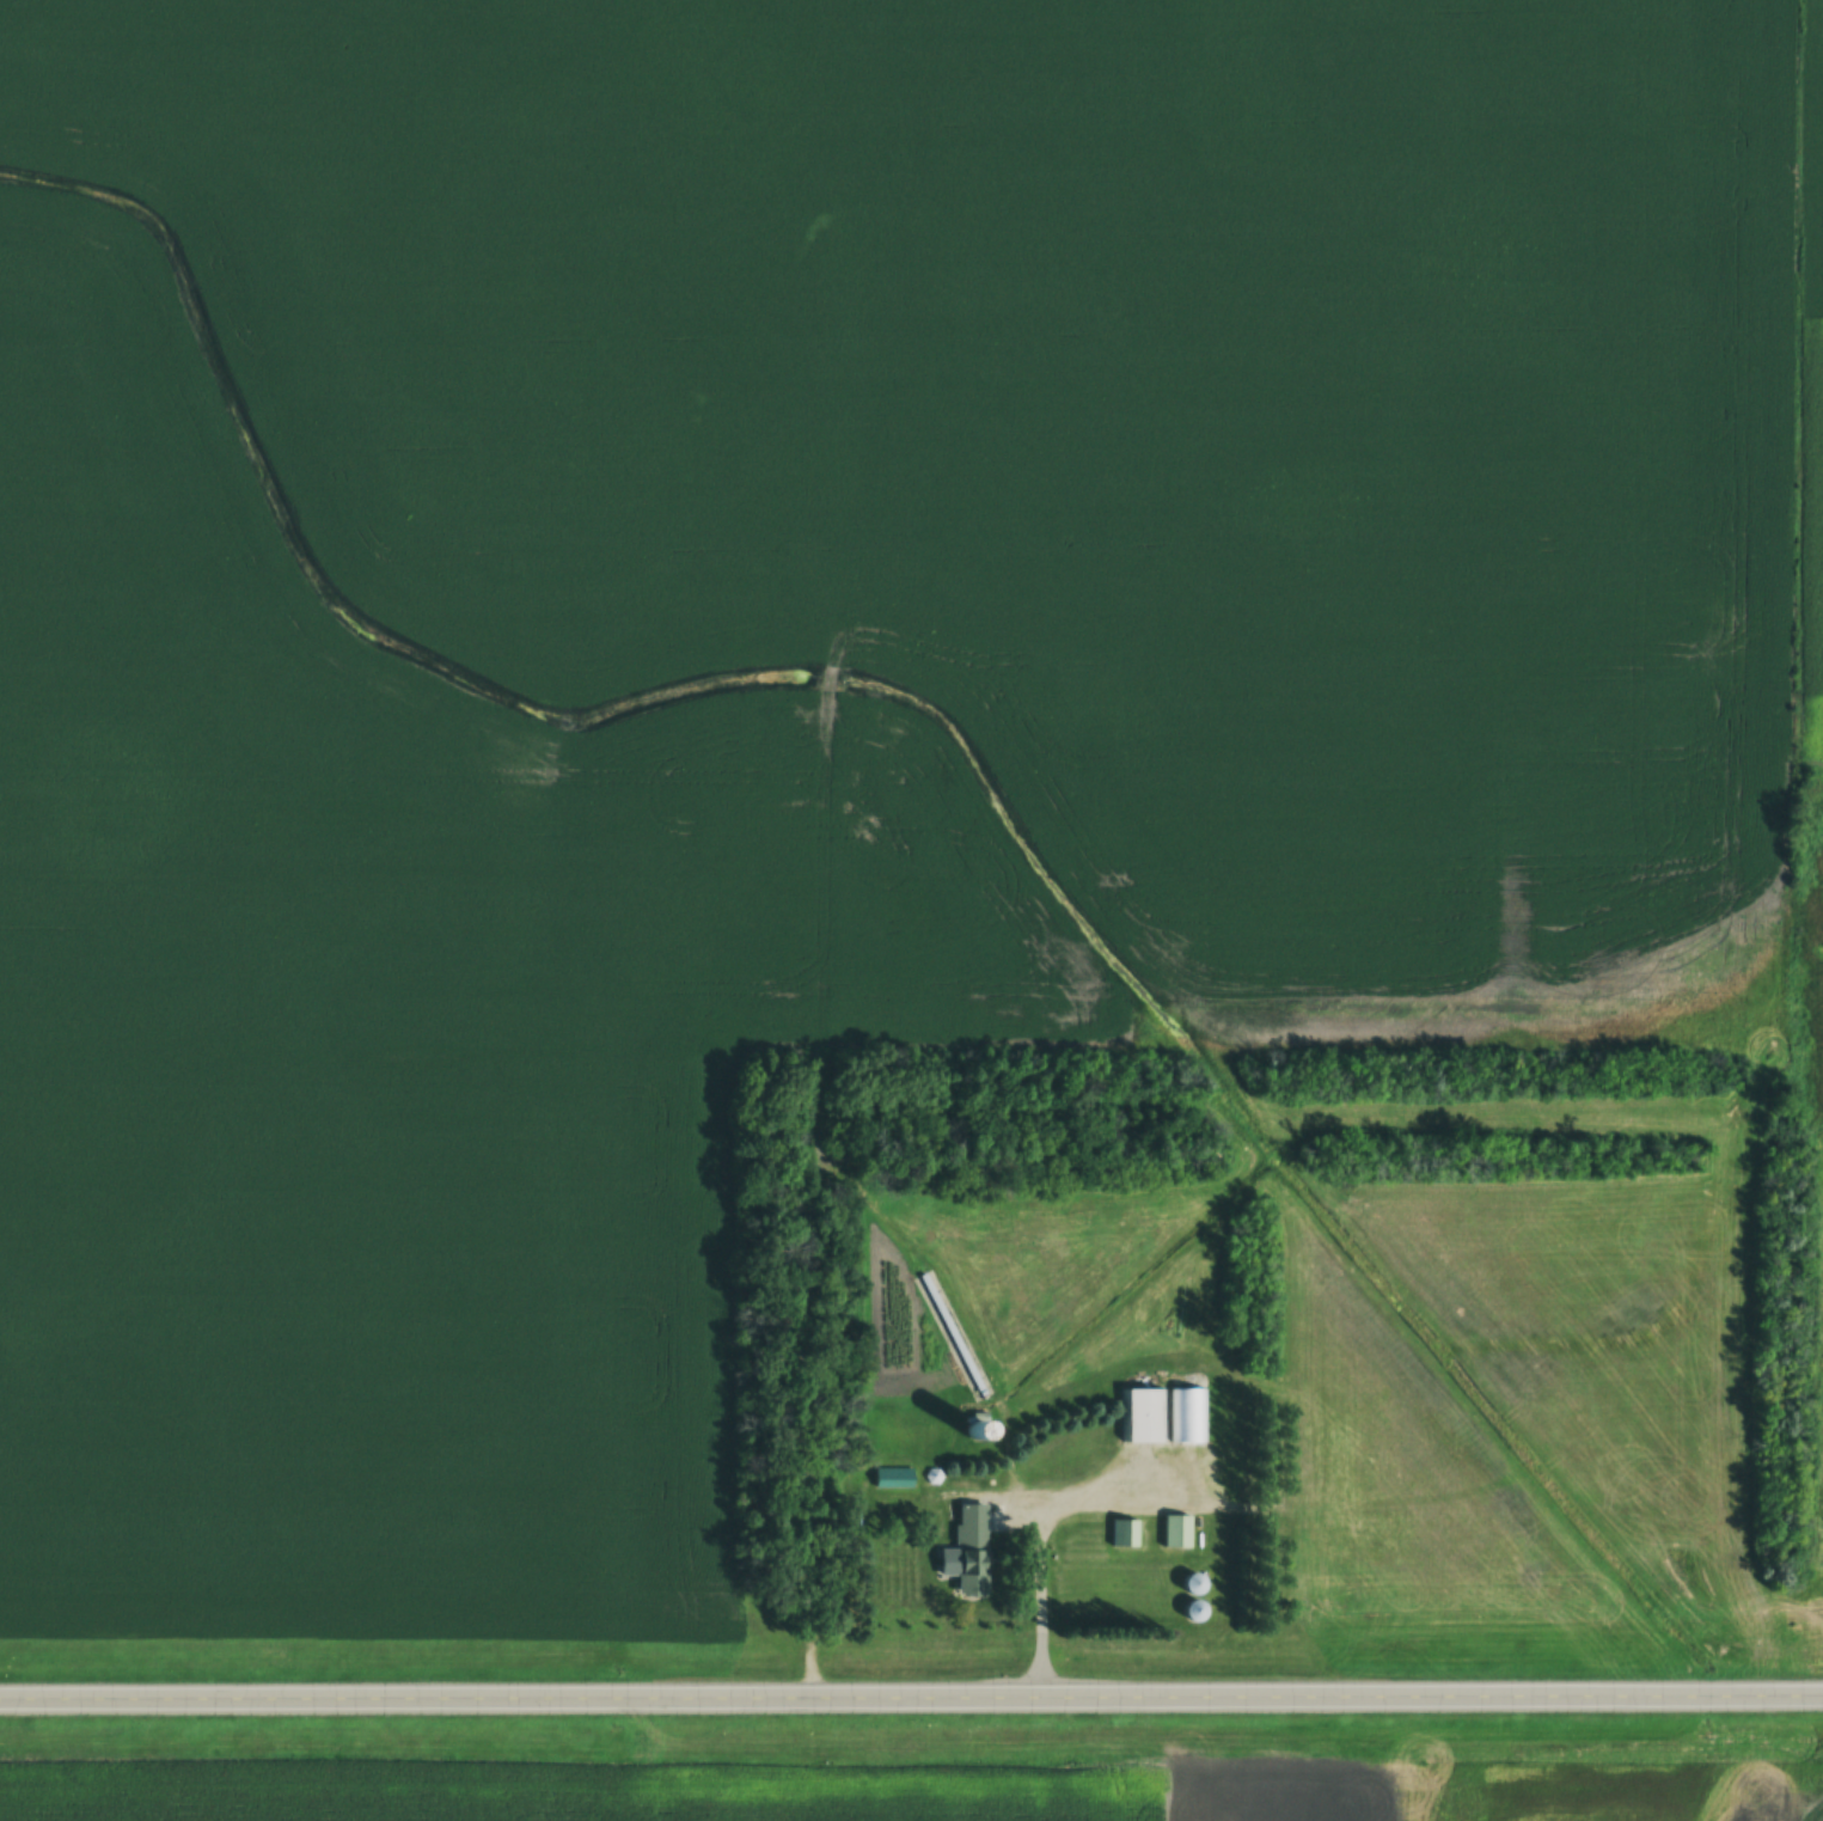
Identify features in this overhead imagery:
building: (1143, 1418)
building: (1189, 1418)
building: (1217, 1486)
building: (1179, 1534)
building: (1126, 1535)
building: (974, 1548)
building: (1198, 1587)
building: (1198, 1613)
road: (911, 1698)

